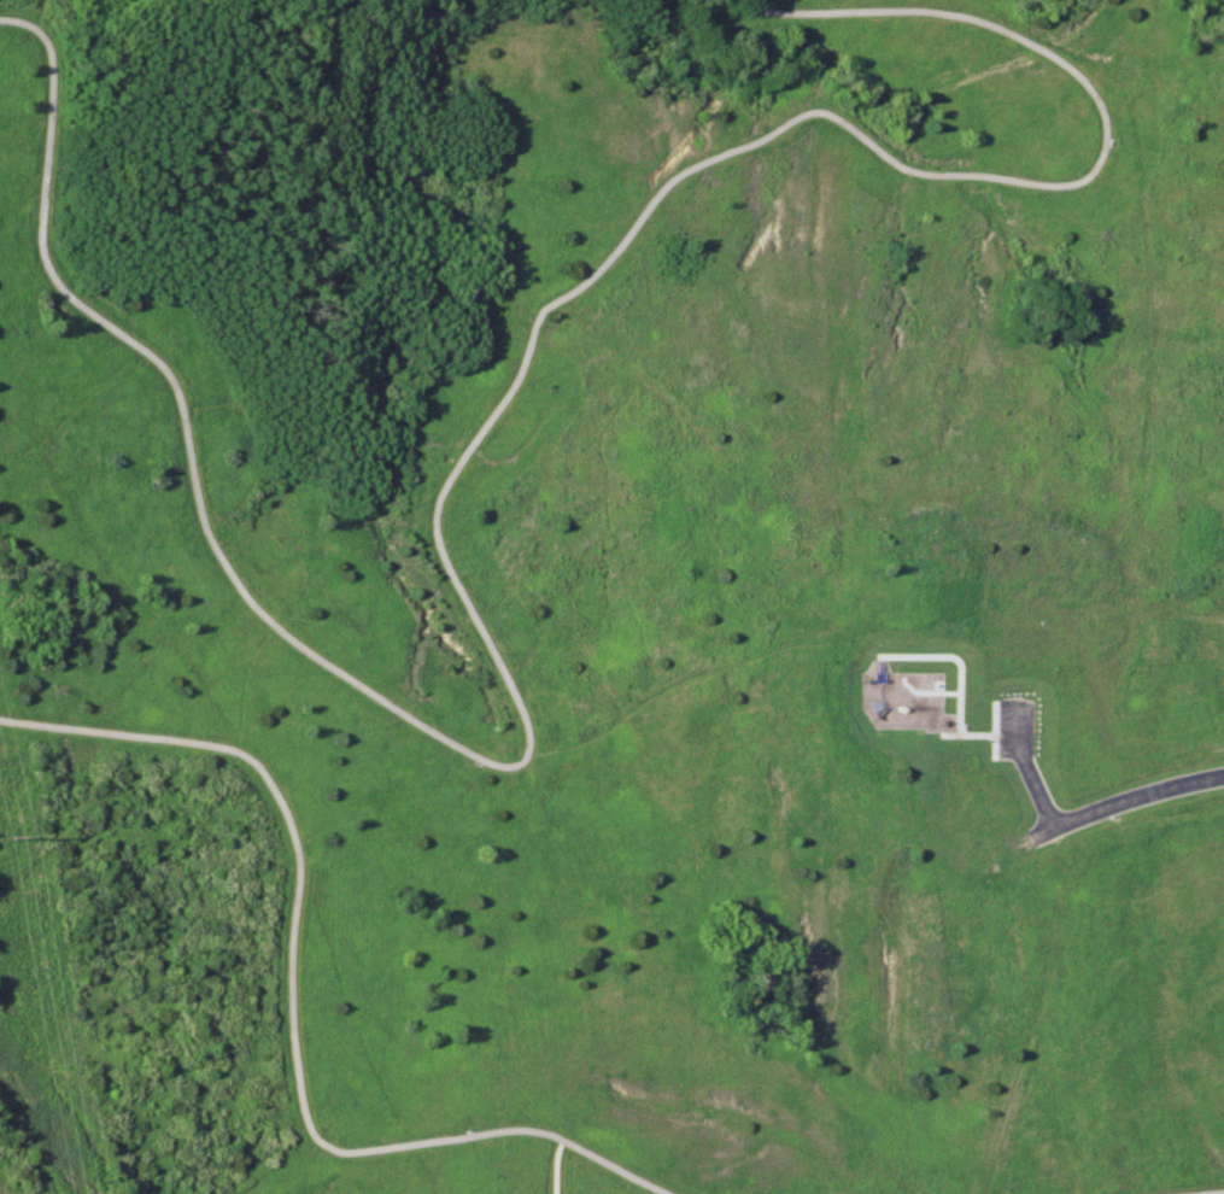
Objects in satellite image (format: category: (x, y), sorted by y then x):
road: (440, 485)
park: (611, 597)
parking lot: (1013, 727)
road: (1023, 765)
road: (1125, 796)
power tower: (2, 835)
road: (287, 1007)
road: (556, 1167)

